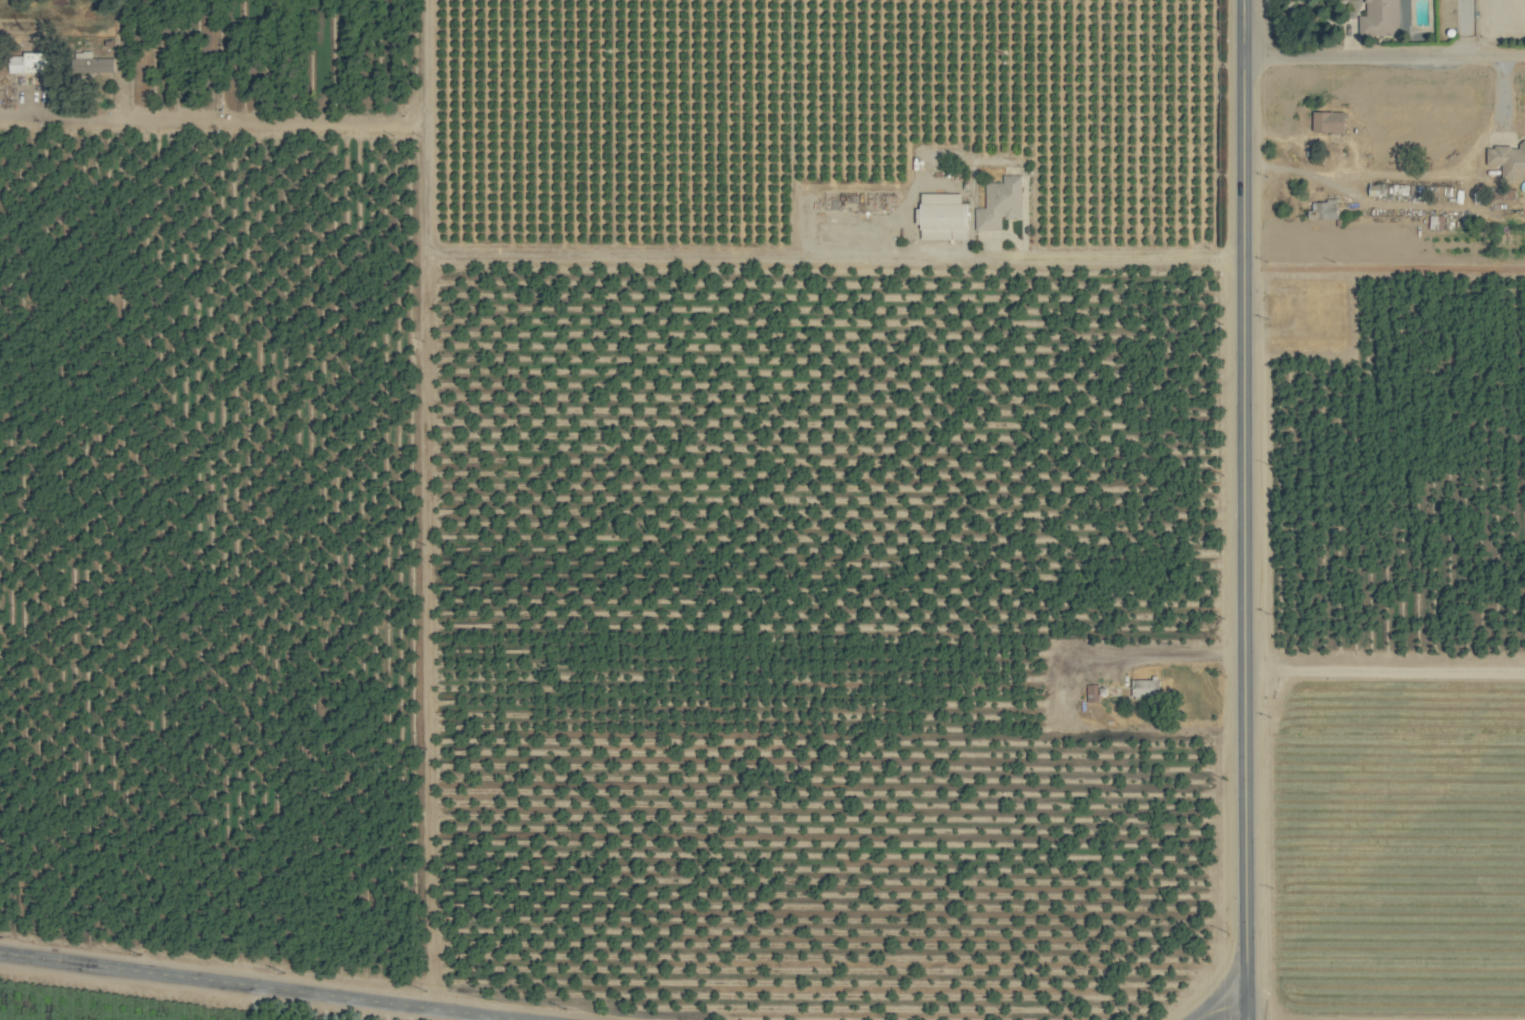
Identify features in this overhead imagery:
building: (1380, 19)
road: (1465, 27)
road: (1243, 28)
road: (1384, 56)
building: (28, 63)
building: (102, 64)
building: (1329, 122)
building: (1508, 160)
road: (1402, 170)
building: (1000, 203)
building: (1327, 210)
building: (944, 216)
road: (1116, 256)
road: (1383, 268)
crop: (762, 510)
road: (1243, 538)
road: (1384, 668)
building: (1146, 688)
road: (263, 986)
road: (1217, 1005)

